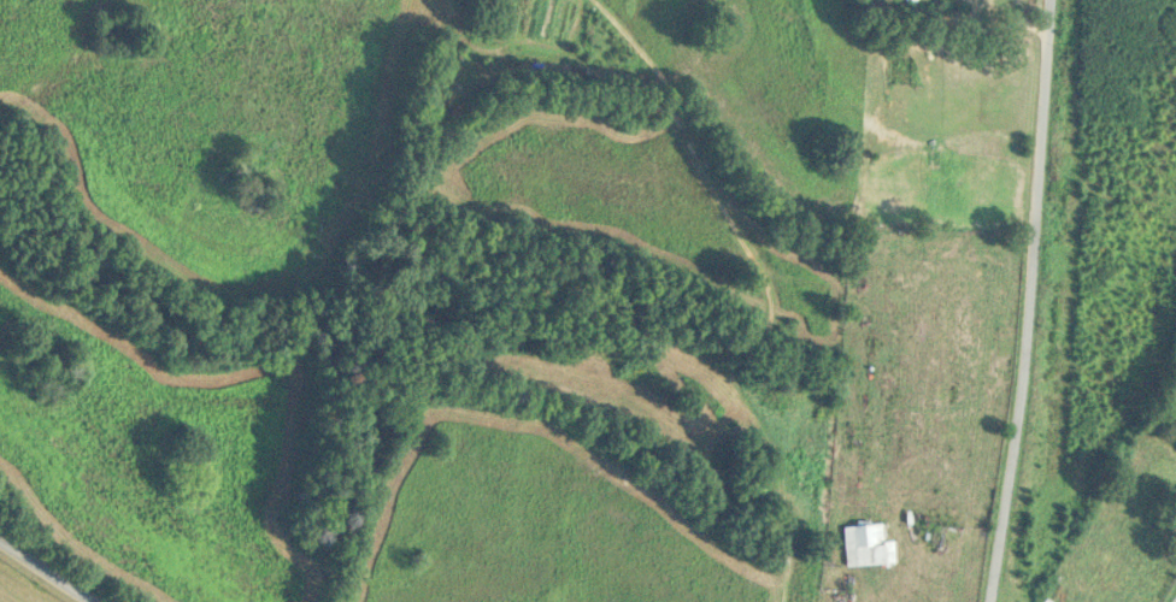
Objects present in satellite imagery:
road: (1034, 301)
building: (868, 545)
road: (46, 571)

